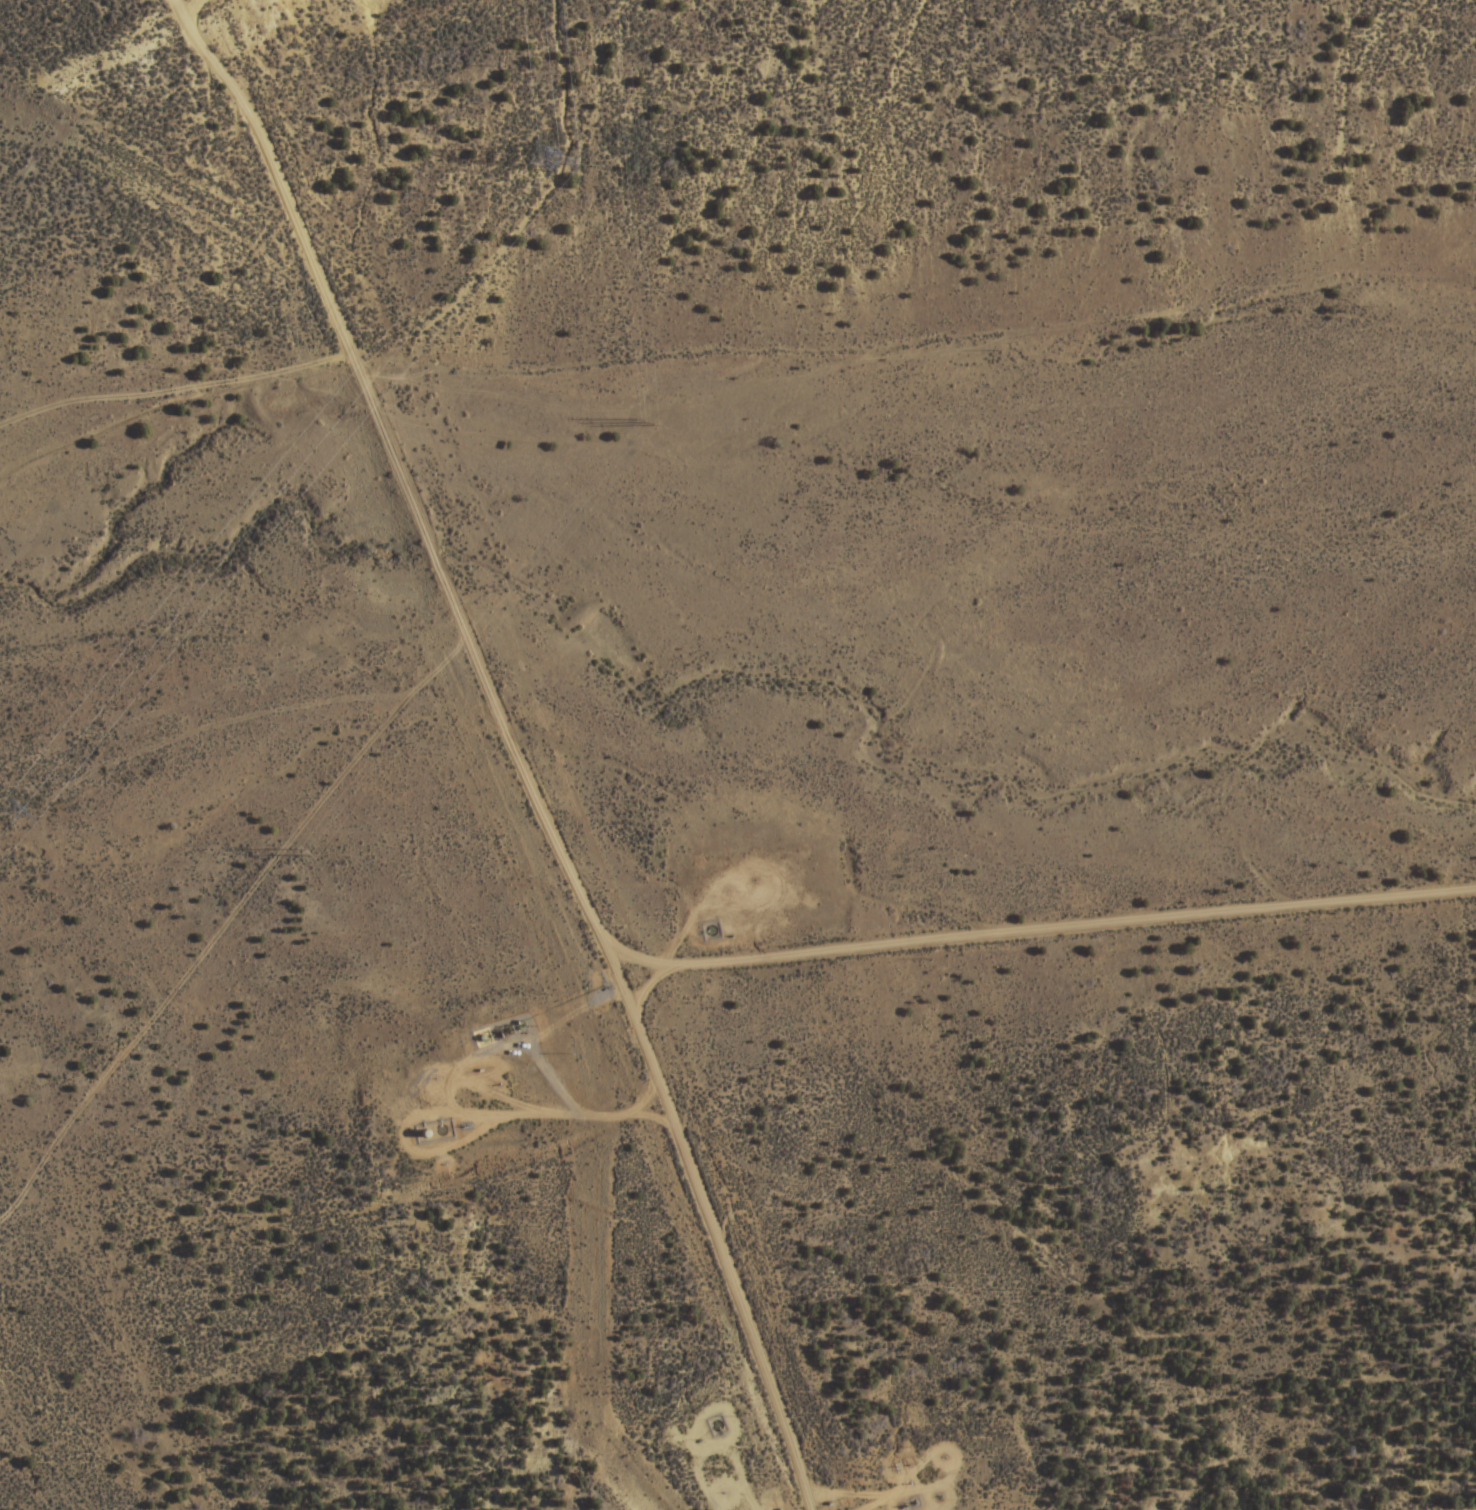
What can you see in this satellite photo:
power tower: (546, 155)
power tower: (5, 802)
road: (547, 906)
road: (693, 1256)

